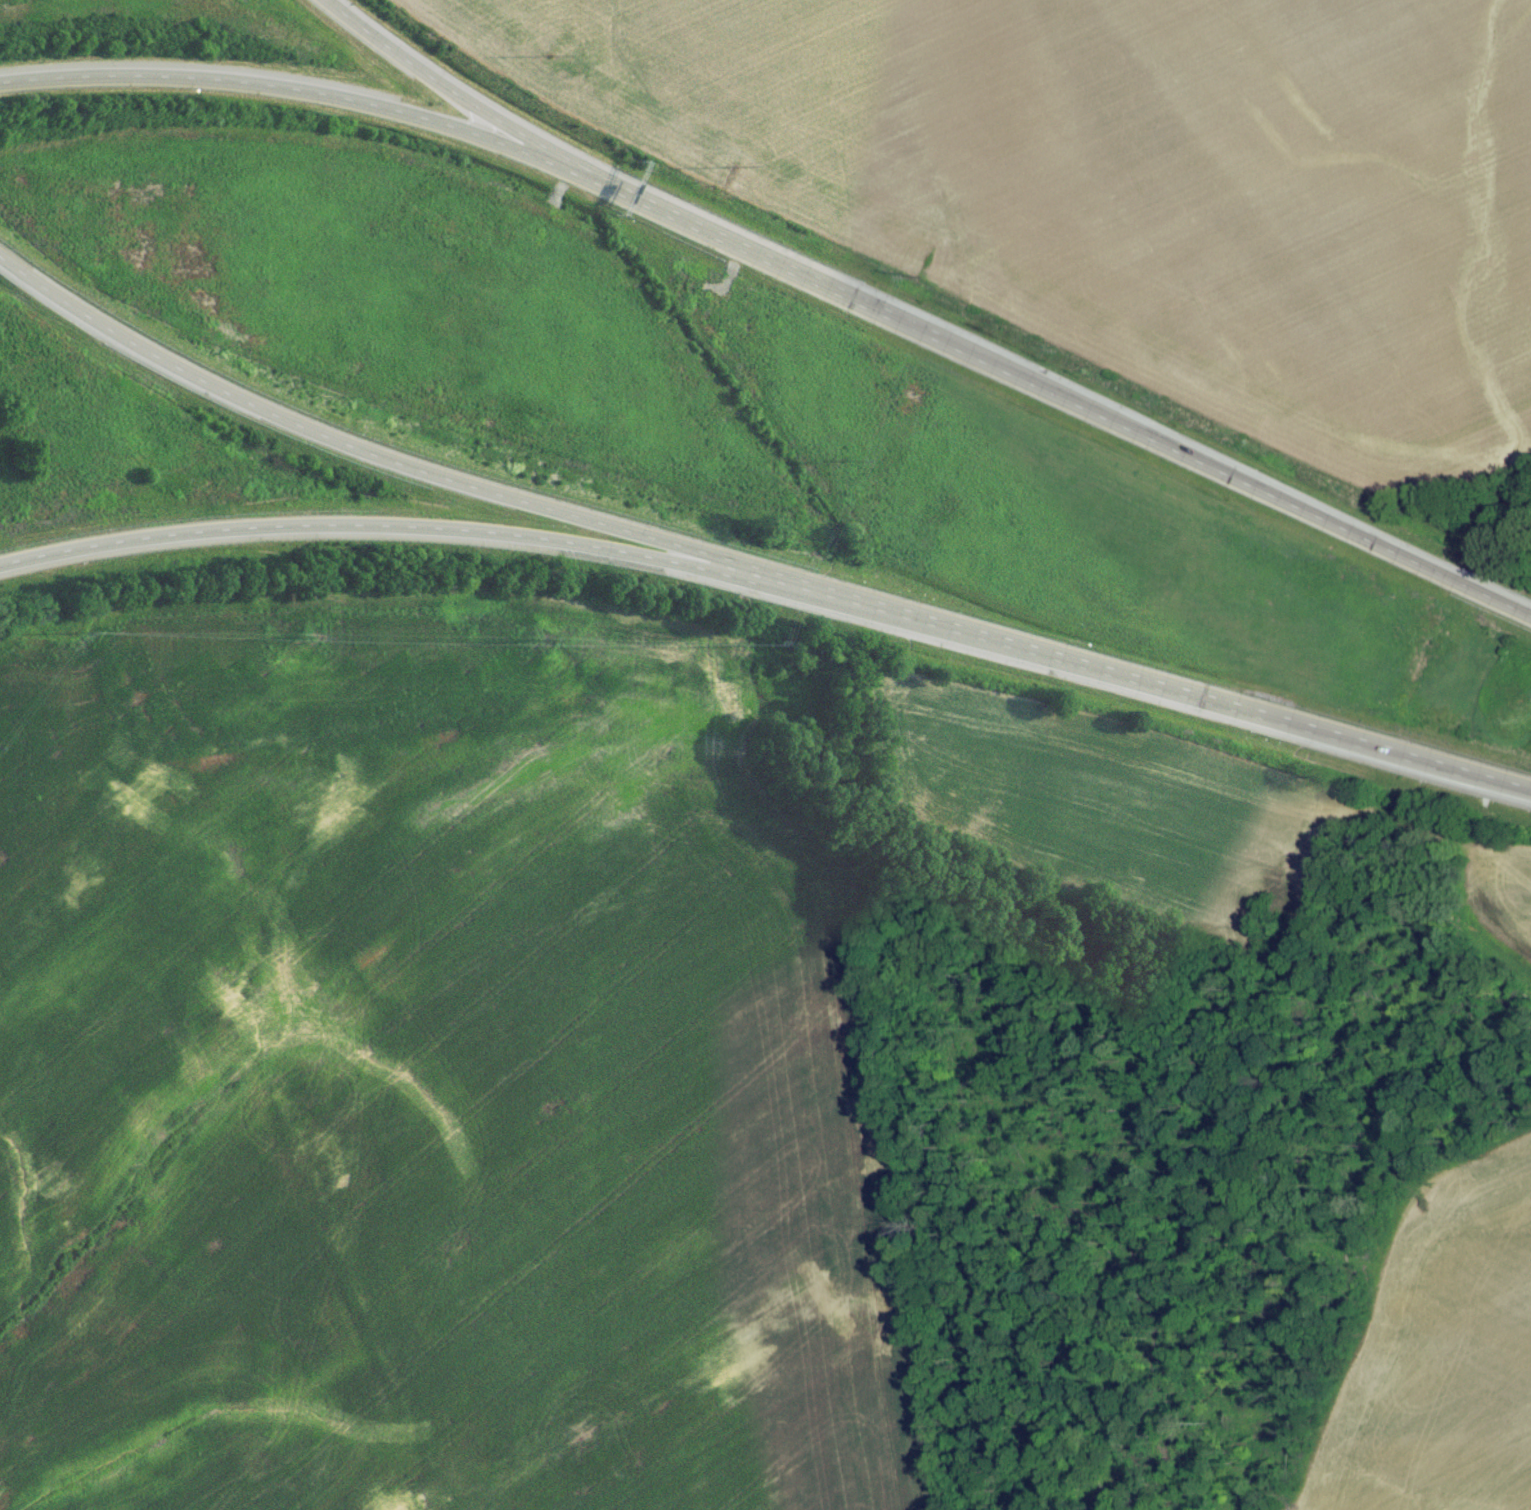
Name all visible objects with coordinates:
road: (437, 89)
road: (286, 95)
road: (1047, 393)
road: (377, 465)
road: (394, 533)
road: (1159, 692)

